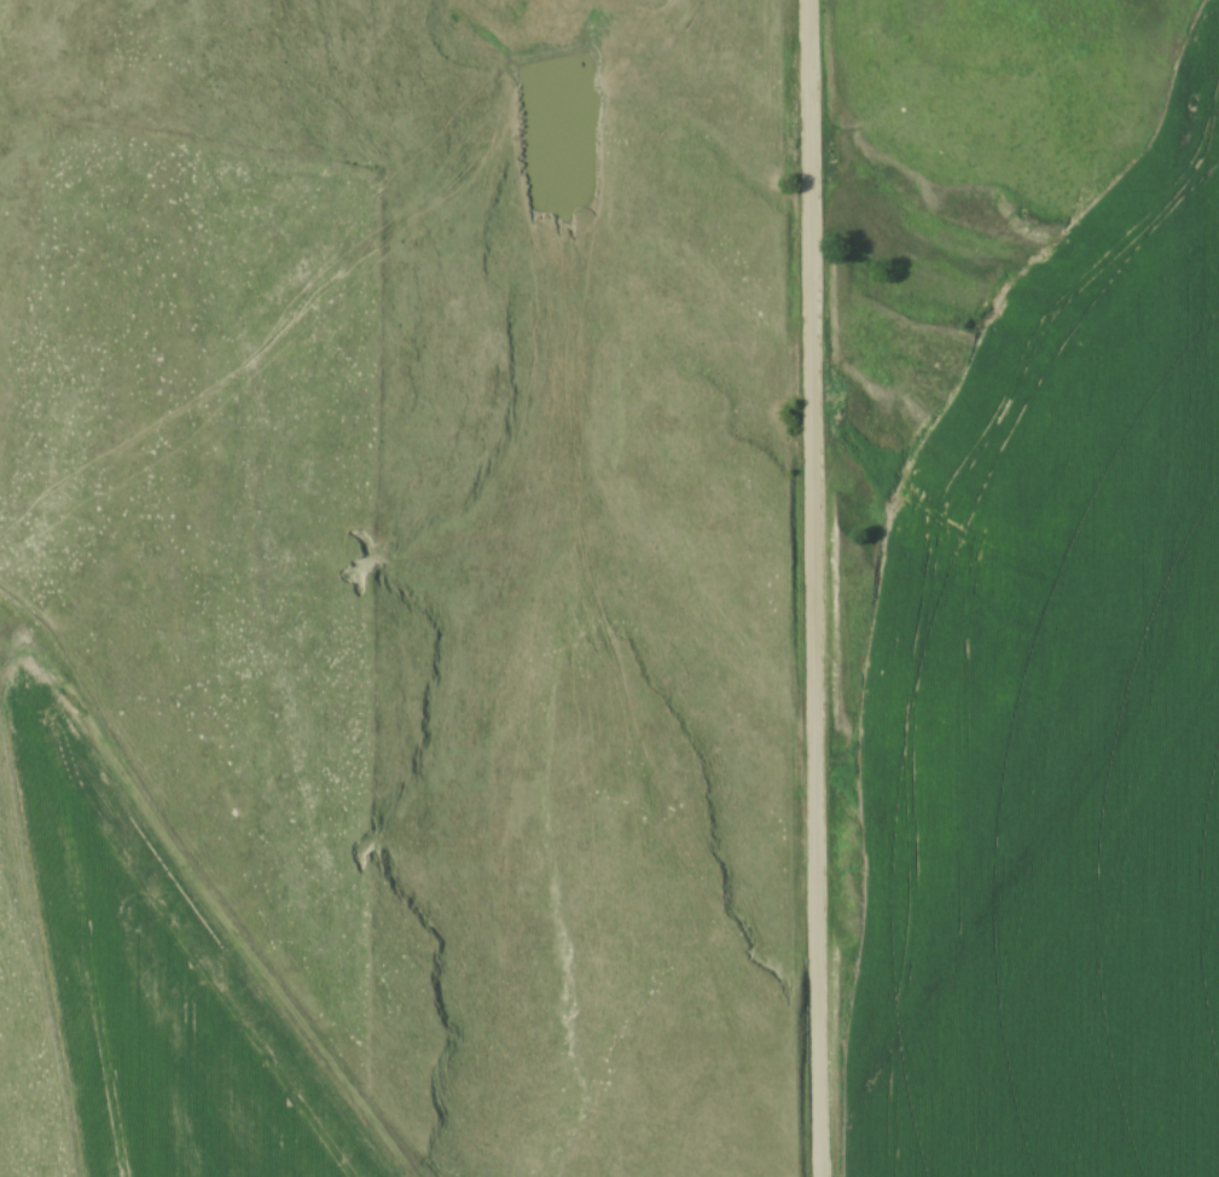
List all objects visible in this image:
road: (807, 588)

